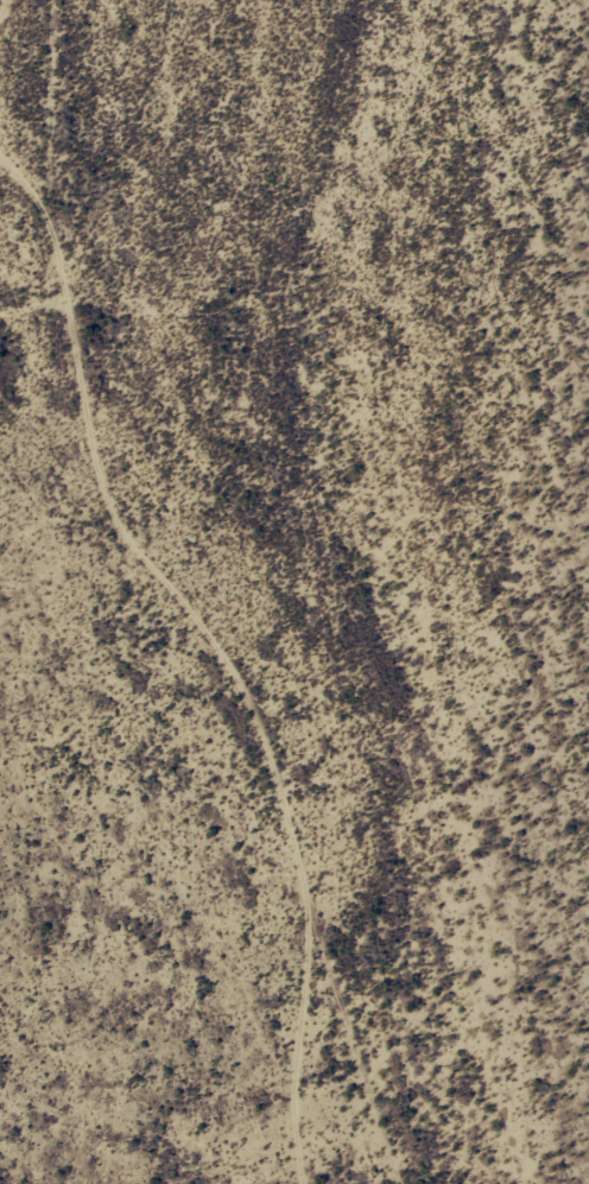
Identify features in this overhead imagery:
road: (37, 202)
road: (278, 736)

